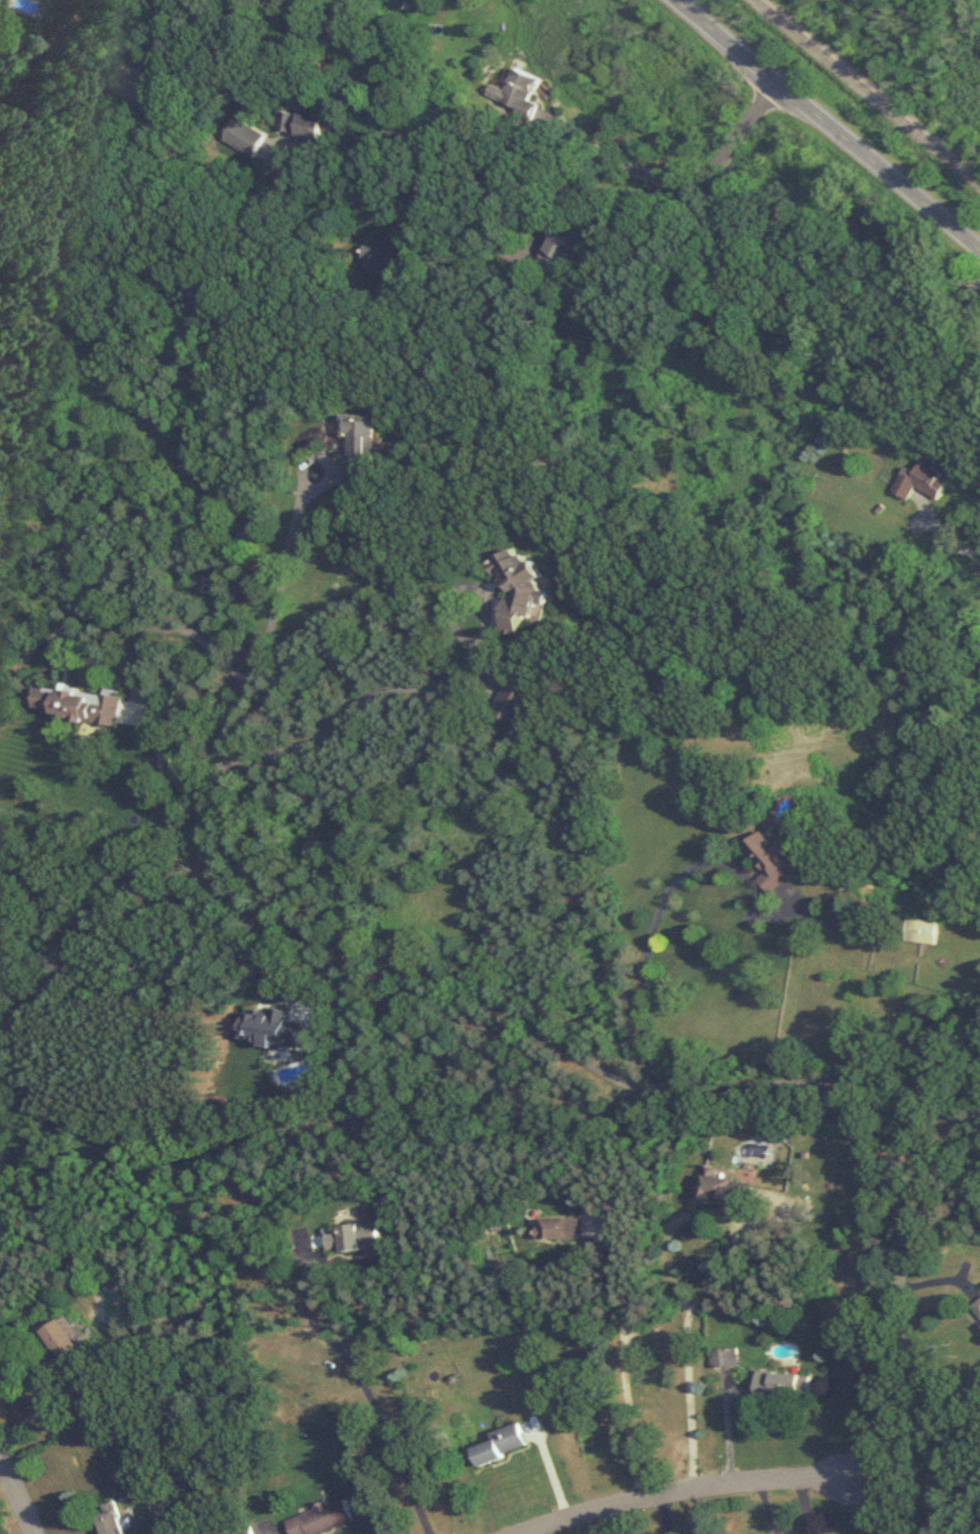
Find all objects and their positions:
road: (114, 34)
railway: (868, 91)
building: (518, 92)
road: (827, 125)
building: (309, 126)
building: (247, 139)
road: (609, 158)
road: (307, 194)
road: (593, 197)
road: (473, 233)
building: (565, 251)
building: (388, 255)
road: (959, 287)
building: (362, 445)
building: (924, 480)
road: (951, 543)
building: (523, 589)
road: (118, 657)
road: (427, 683)
building: (514, 702)
building: (77, 703)
building: (772, 862)
road: (245, 896)
building: (923, 931)
road: (646, 946)
road: (934, 1116)
building: (725, 1187)
road: (894, 1191)
building: (561, 1229)
building: (351, 1237)
road: (663, 1262)
building: (977, 1309)
building: (65, 1341)
building: (722, 1358)
road: (622, 1364)
road: (359, 1378)
building: (783, 1386)
road: (36, 1412)
road: (726, 1425)
building: (503, 1445)
road: (680, 1486)
road: (17, 1493)
road: (805, 1507)
road: (765, 1508)
road: (662, 1512)
building: (322, 1519)
building: (116, 1522)

